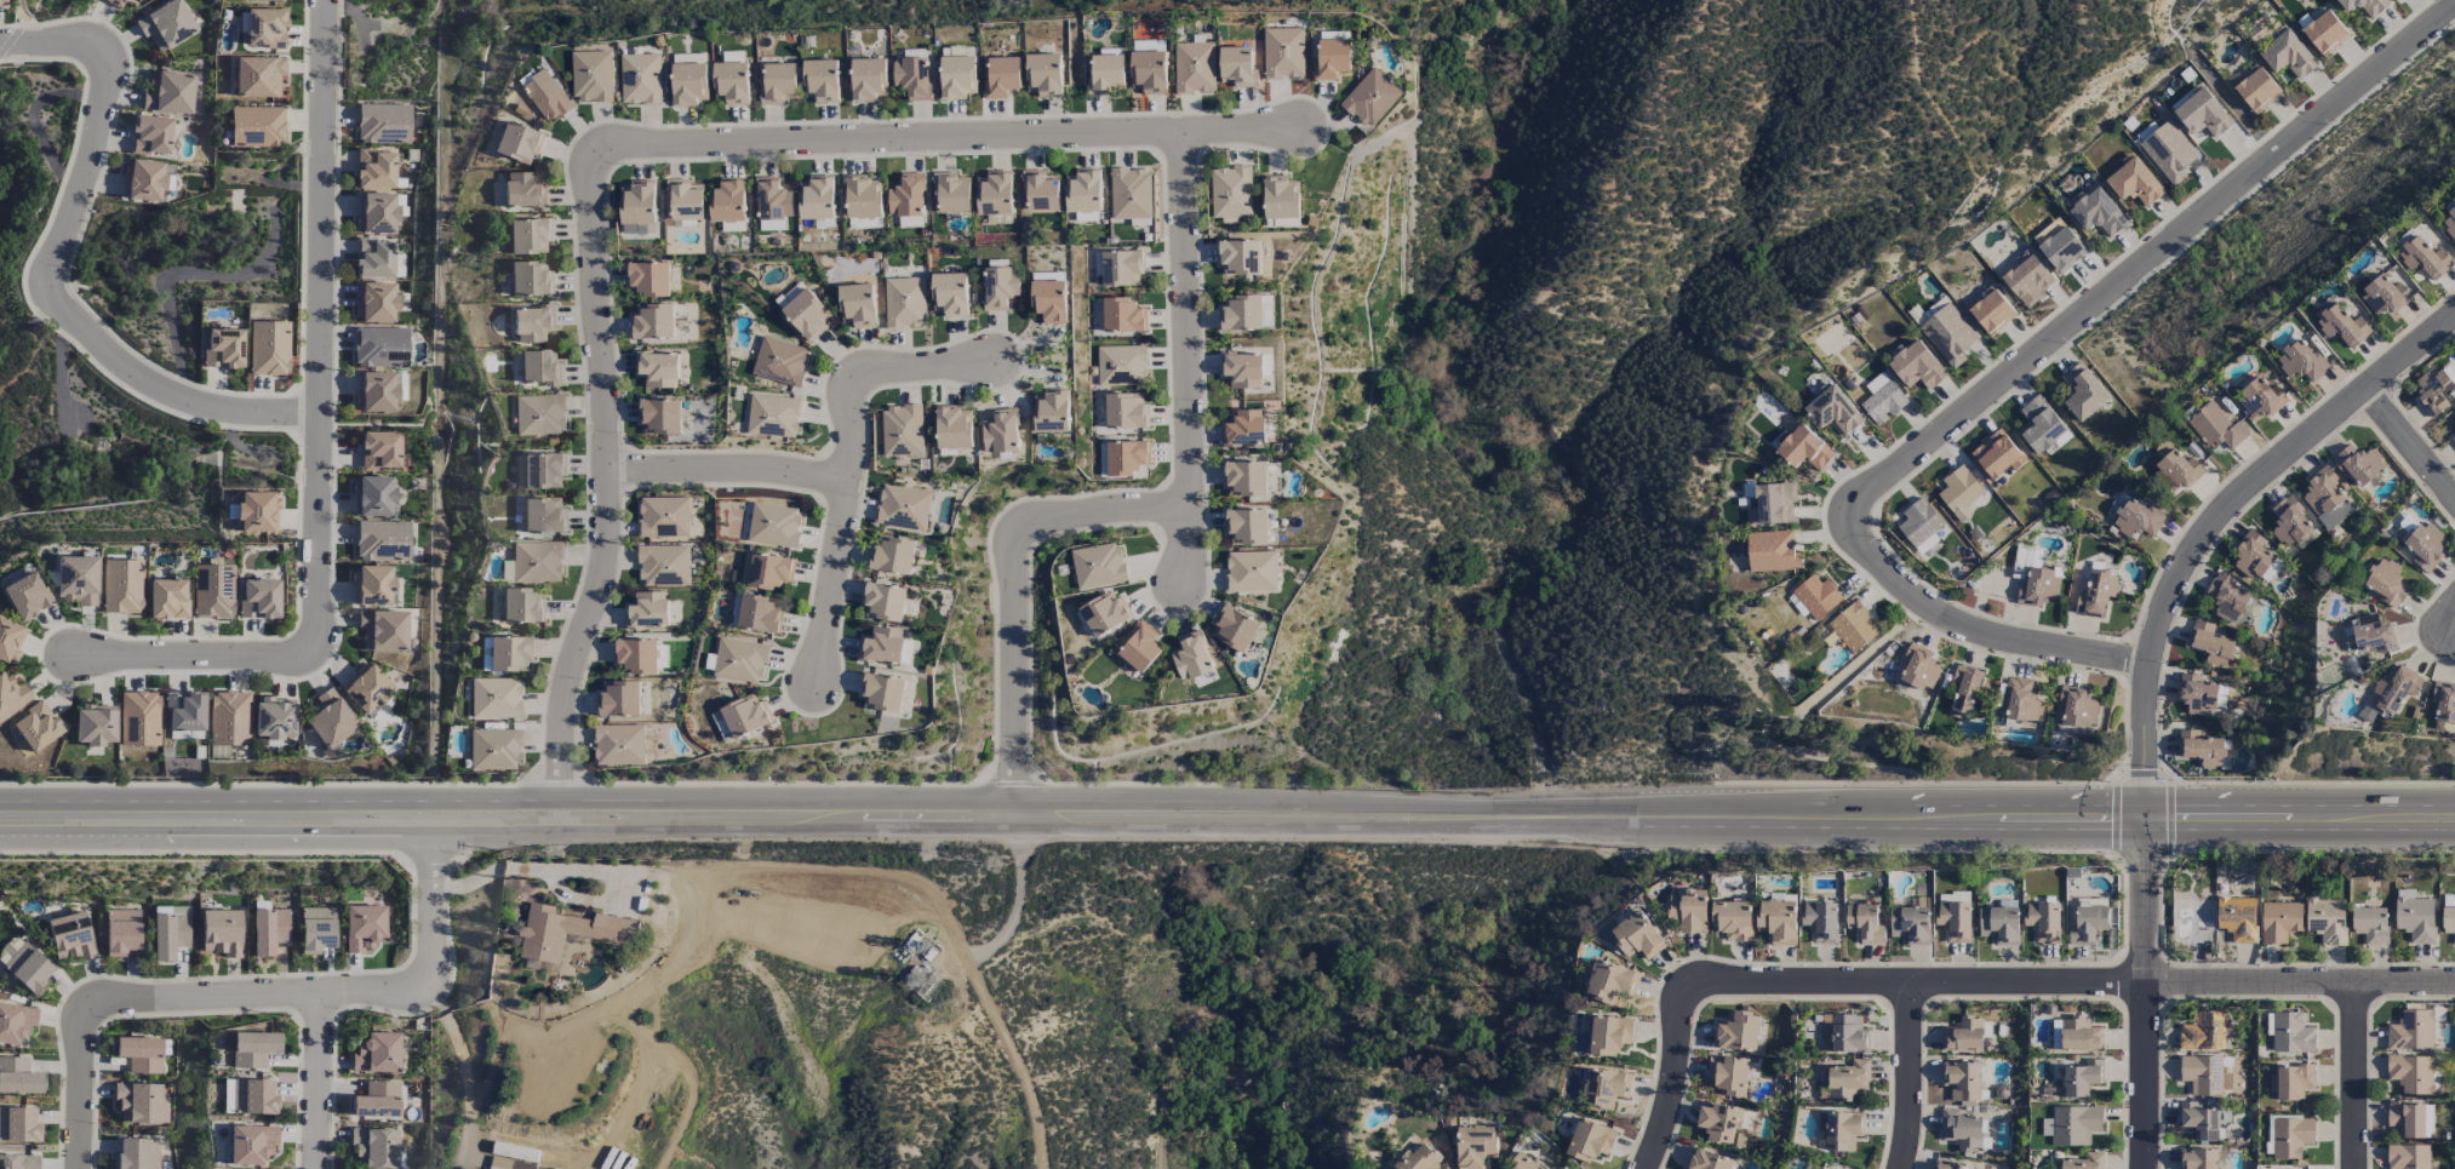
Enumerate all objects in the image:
building: (262, 0)
building: (2399, 0)
building: (114, 2)
building: (1, 4)
building: (2364, 6)
building: (166, 24)
building: (264, 28)
building: (2325, 33)
building: (1283, 53)
building: (2288, 55)
building: (1330, 59)
building: (1237, 67)
building: (1148, 68)
building: (1194, 68)
building: (1043, 75)
building: (1105, 75)
building: (258, 76)
building: (591, 76)
building: (957, 76)
building: (912, 78)
building: (1002, 78)
building: (640, 79)
building: (869, 80)
building: (822, 81)
building: (688, 84)
building: (731, 84)
building: (778, 84)
building: (2256, 90)
building: (168, 93)
building: (546, 96)
building: (1370, 98)
building: (2202, 114)
building: (383, 122)
building: (257, 126)
building: (150, 134)
road: (952, 138)
building: (517, 143)
building: (2169, 151)
building: (376, 168)
building: (142, 180)
building: (2134, 183)
building: (522, 190)
building: (1040, 190)
building: (1083, 191)
building: (1231, 193)
building: (951, 194)
building: (994, 194)
building: (1131, 194)
building: (906, 196)
building: (817, 199)
building: (863, 199)
building: (1281, 199)
building: (685, 201)
building: (728, 201)
building: (637, 204)
building: (772, 204)
building: (377, 212)
building: (2098, 213)
building: (910, 222)
building: (2449, 224)
building: (530, 236)
building: (2061, 250)
road: (2152, 254)
building: (374, 258)
building: (1238, 258)
building: (2423, 258)
building: (400, 265)
building: (1122, 268)
road: (52, 270)
building: (530, 279)
building: (648, 279)
building: (2027, 279)
building: (1000, 288)
building: (950, 294)
building: (2384, 296)
building: (374, 302)
building: (1049, 302)
building: (904, 303)
building: (857, 305)
building: (803, 311)
building: (1992, 313)
building: (1241, 314)
building: (1122, 316)
road: (317, 317)
building: (652, 322)
building: (533, 323)
building: (2342, 326)
building: (1948, 336)
building: (380, 346)
building: (223, 348)
building: (269, 348)
road: (1185, 357)
building: (2300, 361)
building: (780, 362)
building: (1122, 366)
building: (1916, 366)
building: (539, 367)
building: (657, 369)
building: (1242, 369)
building: (377, 390)
building: (2433, 391)
building: (2083, 392)
building: (2261, 399)
building: (1879, 400)
building: (1126, 411)
building: (1833, 411)
building: (1051, 412)
building: (539, 414)
building: (659, 417)
building: (773, 418)
building: (2453, 418)
building: (954, 428)
building: (2041, 428)
building: (2215, 428)
building: (1243, 429)
building: (902, 431)
building: (1001, 432)
building: (2453, 439)
road: (2410, 446)
building: (1804, 448)
building: (380, 451)
building: (1997, 455)
building: (1127, 458)
building: (2359, 465)
road: (852, 468)
building: (539, 470)
road: (727, 470)
building: (2178, 471)
road: (603, 475)
building: (1244, 480)
building: (1958, 492)
building: (373, 495)
building: (2325, 499)
building: (1773, 504)
building: (903, 508)
building: (254, 511)
building: (543, 515)
building: (664, 517)
building: (2136, 518)
road: (2215, 521)
building: (1919, 523)
building: (2290, 523)
building: (774, 526)
building: (1246, 527)
building: (2405, 528)
building: (382, 540)
building: (2426, 546)
building: (1772, 552)
building: (892, 556)
building: (2251, 556)
building: (537, 562)
building: (663, 566)
building: (1097, 566)
building: (769, 572)
building: (1251, 572)
building: (76, 579)
building: (2387, 584)
building: (122, 585)
building: (372, 585)
building: (2038, 588)
building: (213, 591)
building: (2098, 594)
building: (25, 595)
road: (1015, 595)
building: (1816, 597)
building: (167, 598)
building: (259, 598)
building: (2227, 598)
building: (883, 602)
building: (522, 606)
building: (648, 612)
building: (1104, 613)
building: (760, 614)
road: (2450, 621)
building: (1853, 626)
building: (1234, 629)
building: (383, 630)
road: (1981, 630)
building: (2373, 635)
building: (10, 640)
building: (2210, 643)
building: (882, 646)
building: (1140, 647)
road: (201, 653)
building: (485, 653)
building: (509, 653)
building: (636, 655)
building: (1191, 657)
building: (739, 661)
building: (1917, 670)
building: (366, 688)
building: (1964, 689)
building: (2396, 689)
building: (882, 693)
building: (11, 694)
building: (2197, 694)
building: (496, 698)
building: (619, 699)
building: (2020, 701)
building: (2444, 701)
building: (2077, 707)
building: (185, 711)
building: (745, 716)
building: (275, 717)
building: (139, 718)
building: (229, 718)
building: (330, 718)
building: (96, 724)
building: (34, 728)
building: (619, 745)
building: (494, 749)
building: (2199, 749)
road: (618, 801)
road: (1845, 806)
traffic signals: (2146, 807)
road: (814, 829)
road: (2041, 830)
traffic signals: (2146, 831)
road: (1013, 907)
building: (1689, 911)
building: (2414, 917)
building: (1732, 919)
building: (2237, 919)
building: (1778, 921)
building: (2327, 921)
building: (2448, 921)
building: (1820, 922)
building: (1955, 922)
building: (2043, 922)
building: (2278, 922)
building: (1865, 923)
building: (1910, 924)
building: (1999, 924)
building: (2088, 924)
building: (2193, 926)
building: (2370, 926)
building: (364, 927)
building: (317, 929)
building: (269, 930)
building: (122, 932)
building: (222, 932)
building: (572, 933)
building: (170, 935)
building: (70, 936)
building: (1637, 936)
road: (431, 961)
building: (28, 967)
building: (1612, 982)
road: (2067, 986)
road: (2145, 993)
road: (204, 996)
building: (16, 1022)
building: (2410, 1031)
building: (1738, 1032)
building: (2205, 1032)
building: (2291, 1033)
building: (1609, 1035)
building: (1844, 1035)
building: (1963, 1036)
building: (2081, 1036)
building: (251, 1048)
building: (141, 1053)
building: (377, 1053)
building: (2410, 1075)
building: (18, 1076)
building: (1729, 1076)
building: (2204, 1076)
road: (2353, 1076)
road: (1907, 1078)
building: (2081, 1078)
building: (1848, 1079)
road: (317, 1081)
road: (1670, 1081)
building: (1962, 1081)
building: (2293, 1082)
road: (79, 1088)
building: (1606, 1088)
building: (253, 1098)
building: (377, 1100)
building: (142, 1104)
building: (2407, 1119)
building: (2202, 1121)
building: (2428, 1121)
building: (1719, 1123)
building: (18, 1125)
building: (2072, 1125)
building: (1838, 1130)
building: (1962, 1130)
building: (2290, 1138)
building: (1590, 1141)
building: (251, 1144)
building: (1475, 1146)
building: (374, 1147)
building: (516, 1152)
building: (137, 1153)
building: (2407, 1157)
building: (1419, 1159)
building: (2198, 1159)
building: (1706, 1161)
building: (18, 1162)
building: (2084, 1162)
building: (1522, 1163)
building: (509, 1164)
building: (1950, 1164)

